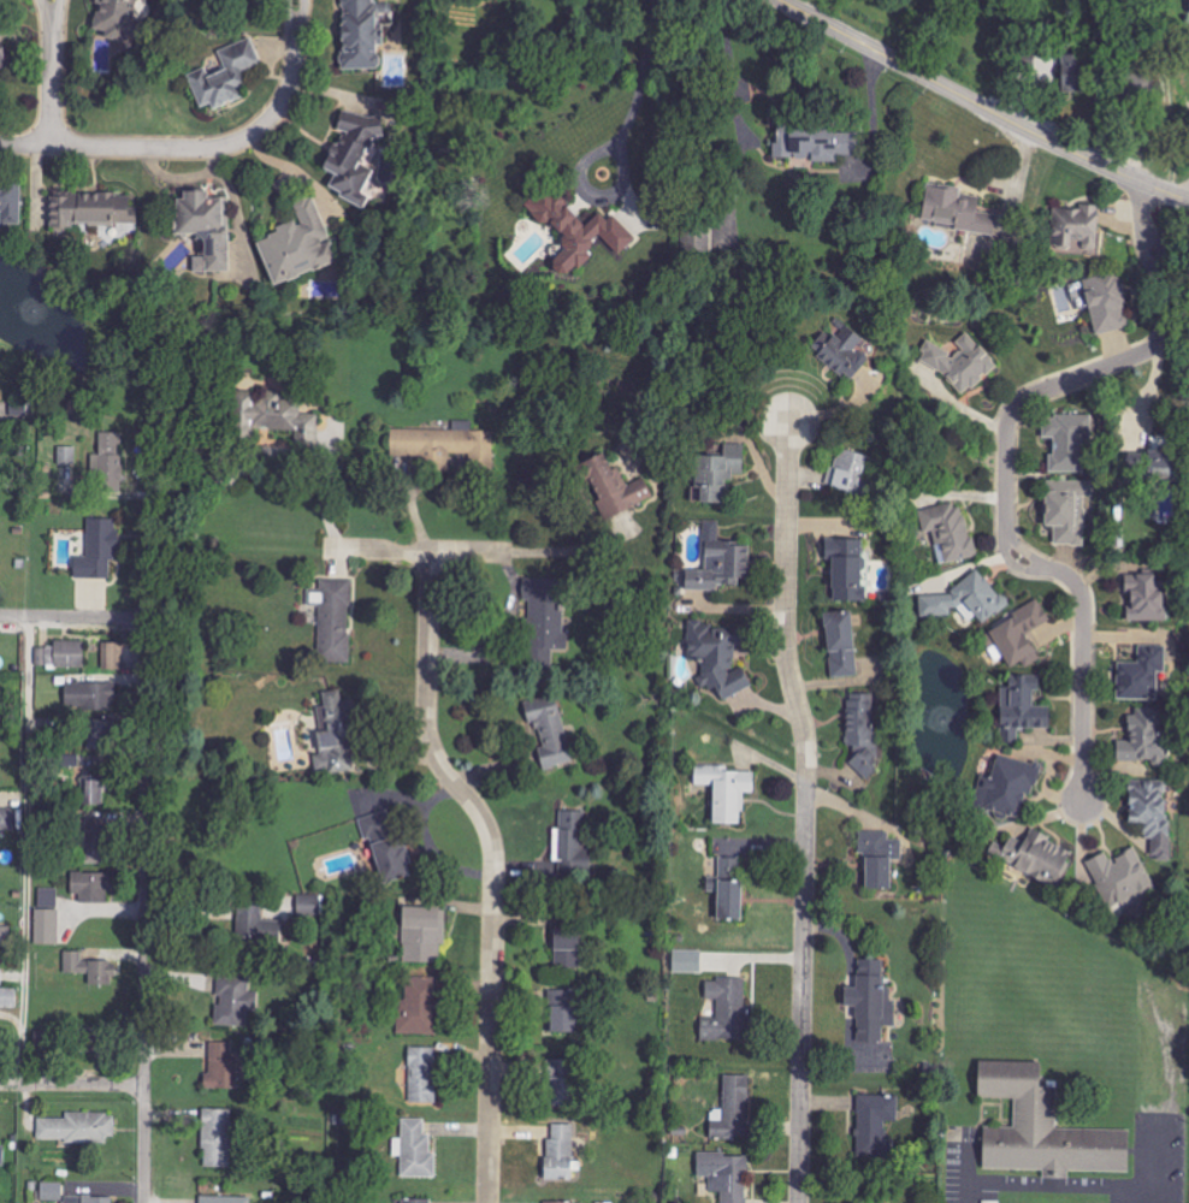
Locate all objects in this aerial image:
building: (114, 18)
building: (362, 32)
building: (2, 57)
road: (51, 70)
building: (1070, 72)
building: (1053, 73)
road: (640, 75)
building: (224, 76)
building: (1, 94)
road: (980, 107)
building: (814, 146)
road: (201, 148)
building: (351, 155)
road: (588, 194)
building: (10, 203)
building: (956, 209)
building: (89, 211)
building: (1076, 227)
building: (205, 229)
building: (575, 231)
building: (696, 242)
building: (297, 244)
building: (1104, 303)
building: (840, 350)
building: (960, 363)
building: (1067, 443)
building: (446, 448)
building: (67, 456)
road: (1007, 460)
building: (107, 463)
road: (267, 464)
building: (1150, 467)
building: (716, 470)
building: (848, 472)
building: (616, 487)
building: (1067, 510)
building: (948, 532)
road: (377, 550)
road: (574, 550)
building: (97, 551)
building: (720, 563)
road: (1015, 567)
building: (845, 569)
building: (1146, 599)
building: (966, 600)
road: (72, 617)
building: (332, 620)
building: (545, 623)
building: (1016, 638)
building: (841, 645)
building: (61, 656)
building: (113, 657)
building: (717, 658)
building: (1141, 675)
building: (91, 697)
building: (537, 705)
building: (1021, 709)
building: (862, 733)
building: (99, 735)
building: (335, 736)
building: (551, 737)
building: (1143, 739)
building: (1008, 787)
building: (91, 790)
building: (726, 792)
road: (806, 812)
building: (1150, 816)
building: (8, 819)
road: (143, 822)
road: (486, 826)
building: (94, 841)
building: (385, 847)
building: (574, 847)
road: (30, 851)
building: (879, 858)
building: (1035, 858)
building: (90, 888)
building: (729, 890)
building: (307, 905)
building: (47, 917)
building: (256, 926)
building: (424, 935)
building: (5, 937)
building: (566, 938)
building: (567, 960)
building: (686, 961)
building: (91, 972)
building: (7, 998)
building: (233, 1001)
building: (870, 1001)
building: (419, 1008)
building: (728, 1009)
building: (562, 1012)
building: (87, 1039)
building: (221, 1066)
building: (421, 1074)
building: (557, 1080)
road: (72, 1084)
building: (732, 1109)
building: (875, 1121)
building: (78, 1127)
building: (1043, 1127)
building: (217, 1137)
road: (1155, 1145)
building: (415, 1149)
building: (560, 1152)
building: (2, 1155)
road: (964, 1174)
building: (723, 1175)
road: (1054, 1185)
building: (52, 1191)
building: (87, 1199)
building: (224, 1199)
building: (416, 1201)
building: (557, 1202)

